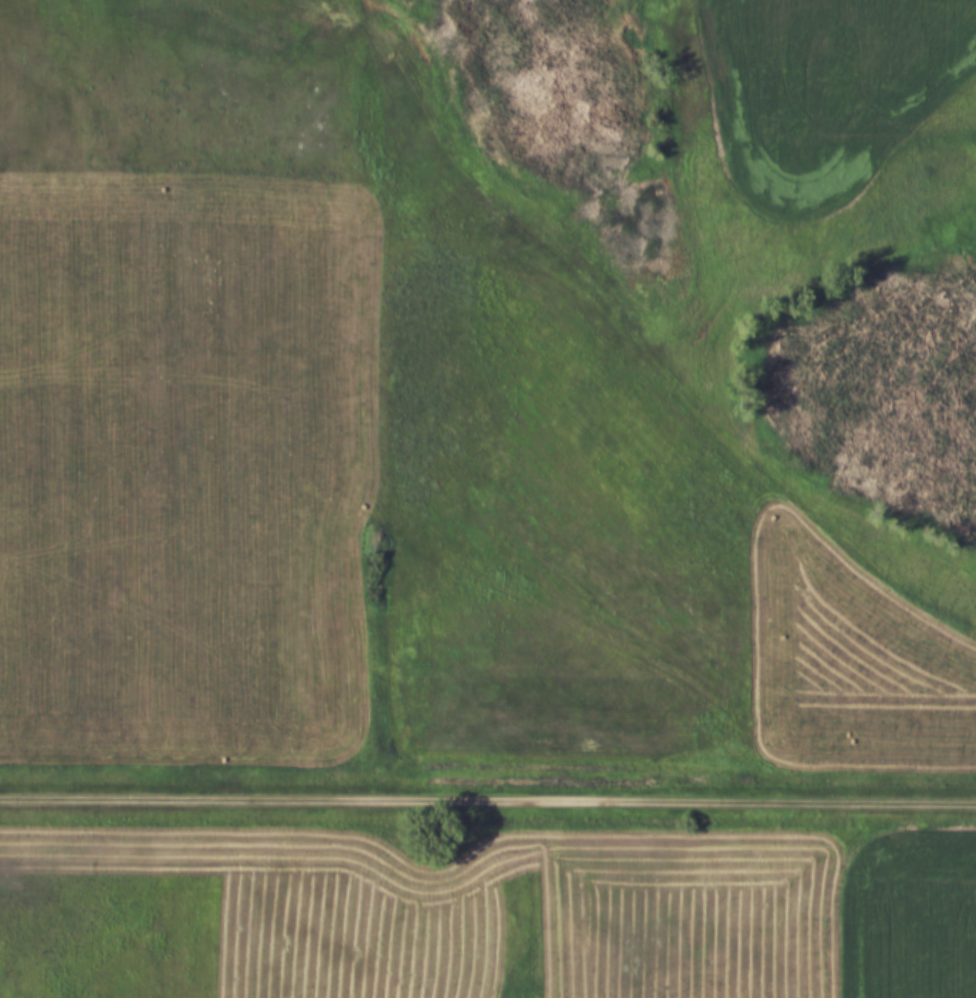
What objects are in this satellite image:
road: (487, 795)

